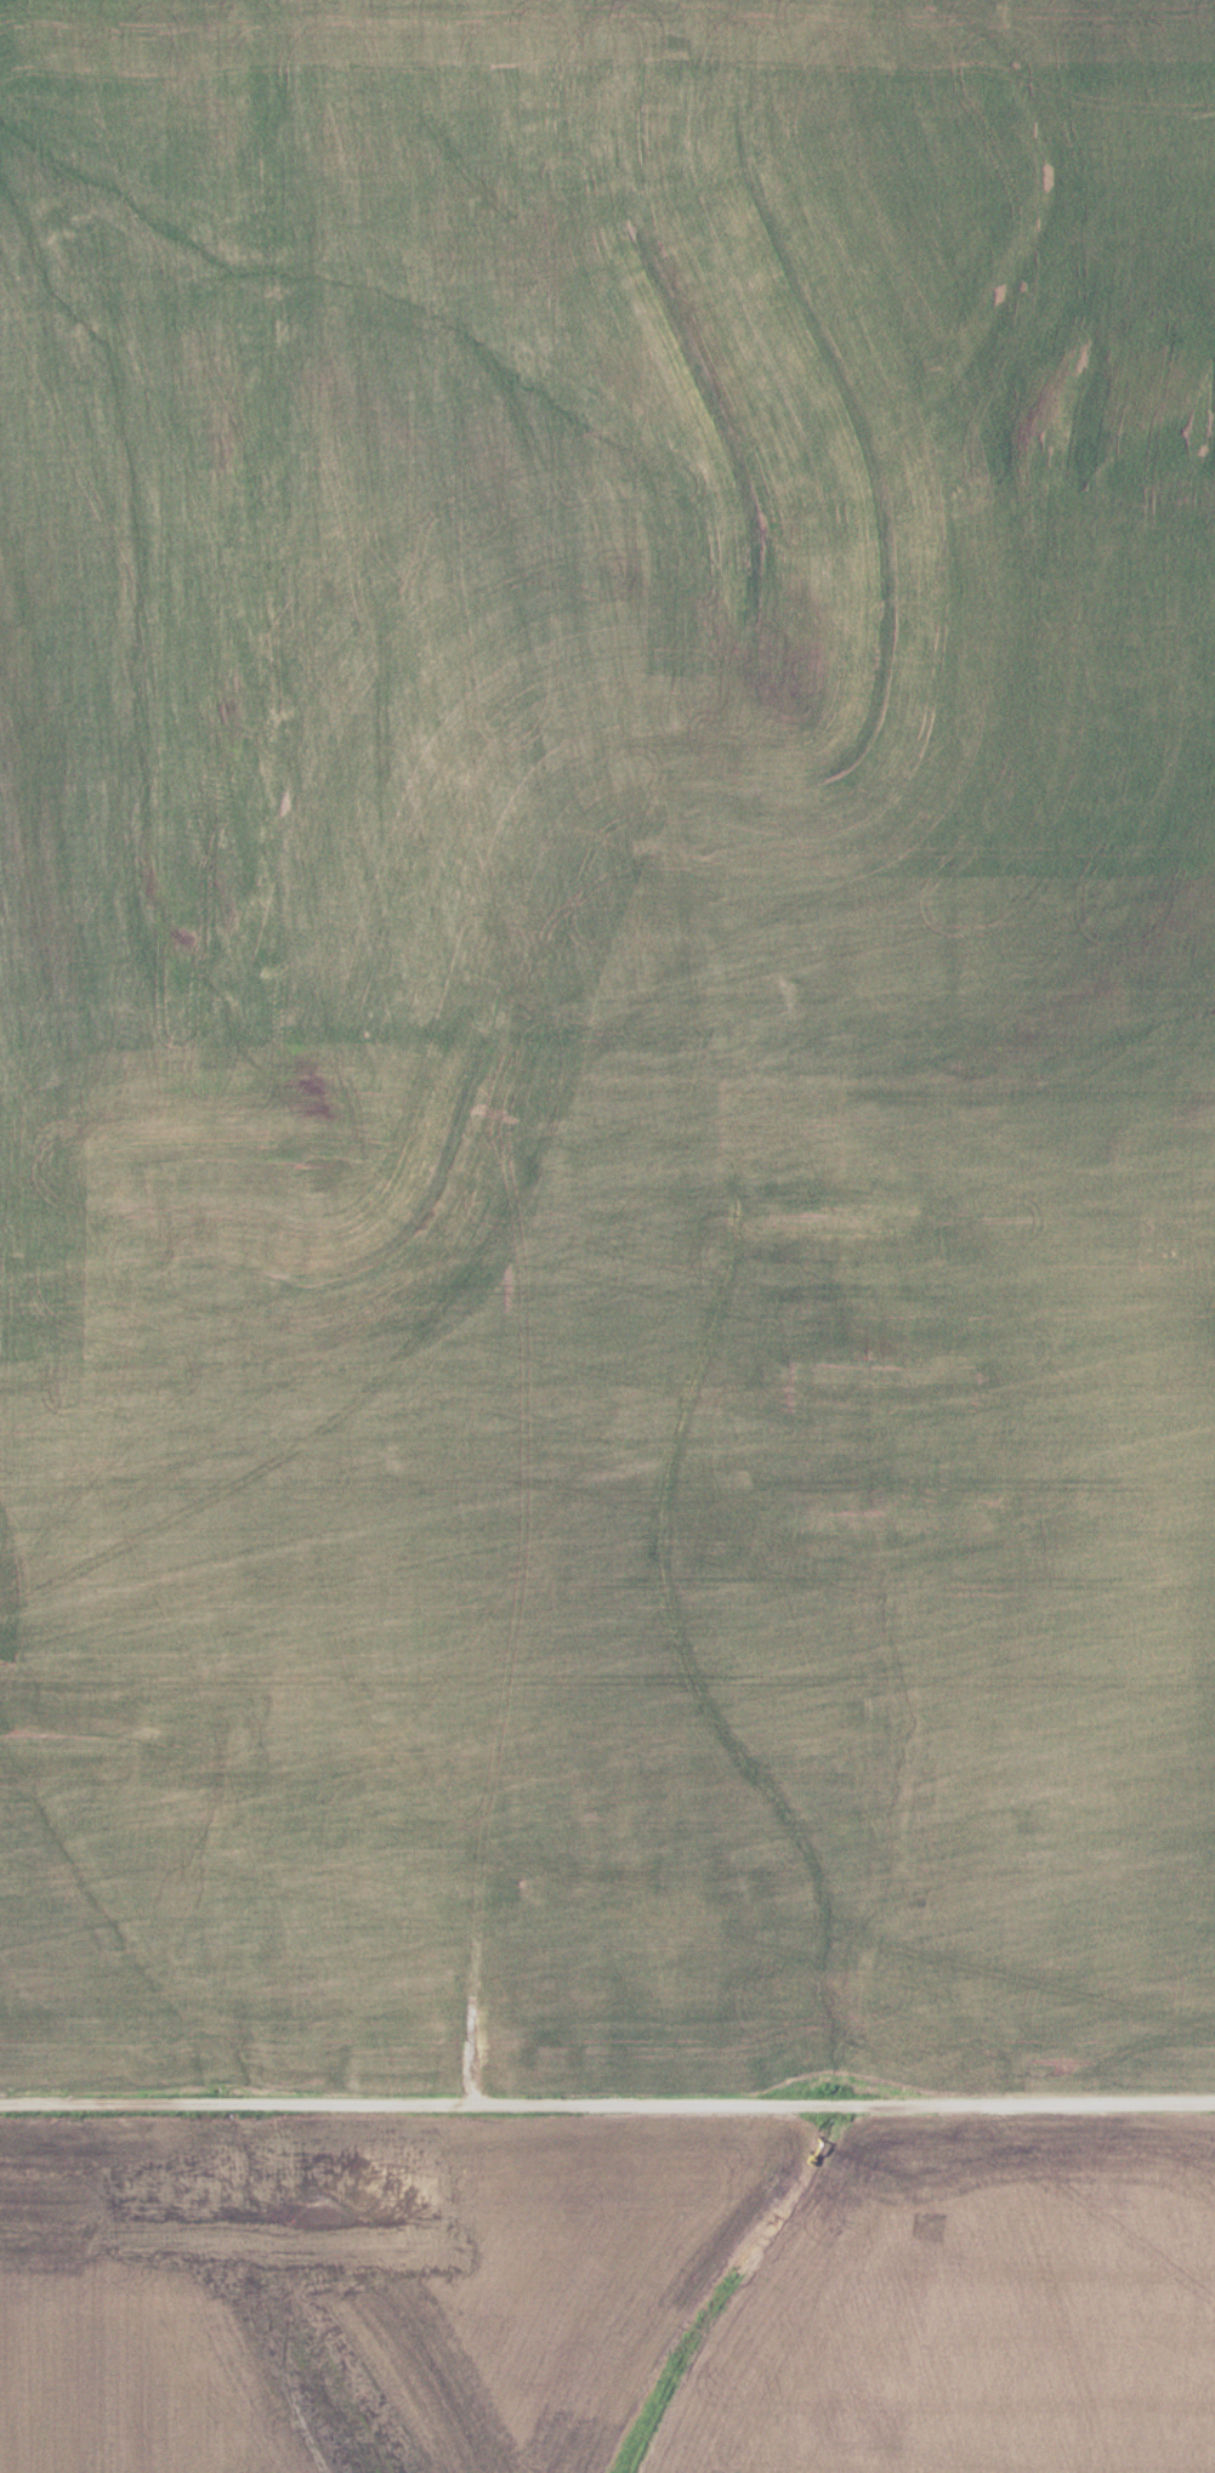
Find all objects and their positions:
road: (607, 2104)

